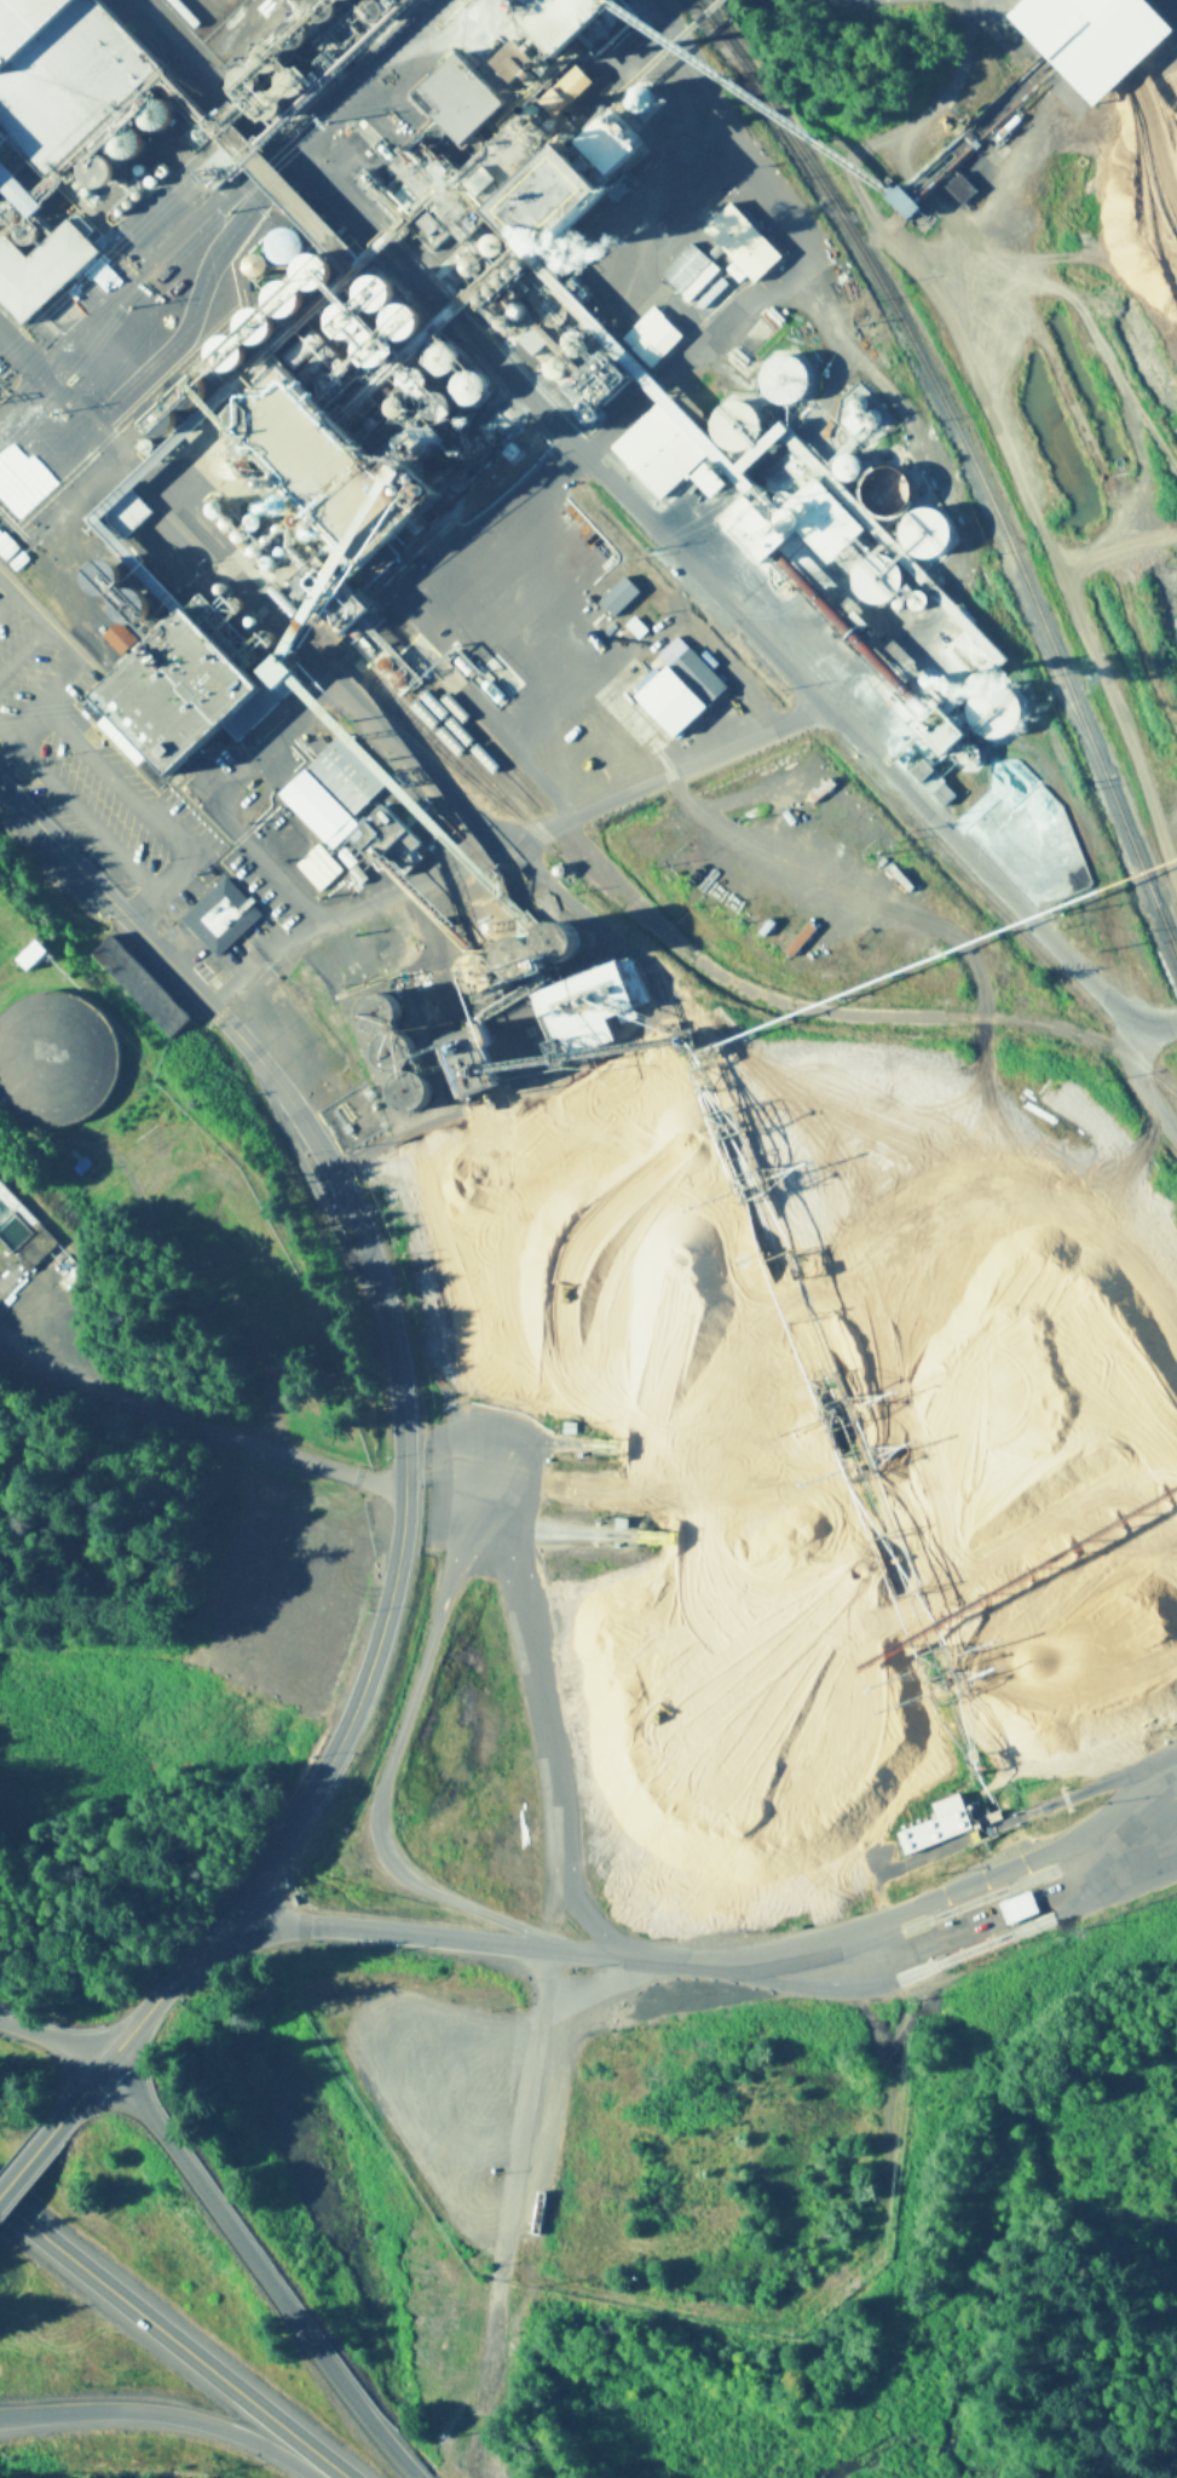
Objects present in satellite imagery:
building: (31, 25)
building: (1100, 39)
building: (485, 92)
road: (307, 163)
building: (958, 190)
building: (39, 243)
building: (745, 243)
building: (288, 246)
building: (686, 271)
road: (139, 278)
road: (31, 378)
building: (789, 380)
railway: (967, 464)
building: (829, 537)
building: (18, 564)
building: (178, 648)
building: (899, 674)
building: (681, 689)
road: (827, 715)
railway: (451, 769)
building: (334, 792)
railway: (518, 804)
railway: (533, 836)
building: (220, 920)
building: (37, 958)
railway: (752, 1005)
building: (63, 1063)
building: (19, 1226)
road: (404, 1453)
building: (1017, 1909)
road: (725, 1976)
road: (51, 2042)
road: (537, 2120)
road: (25, 2168)
road: (256, 2269)
road: (171, 2340)
road: (158, 2416)

